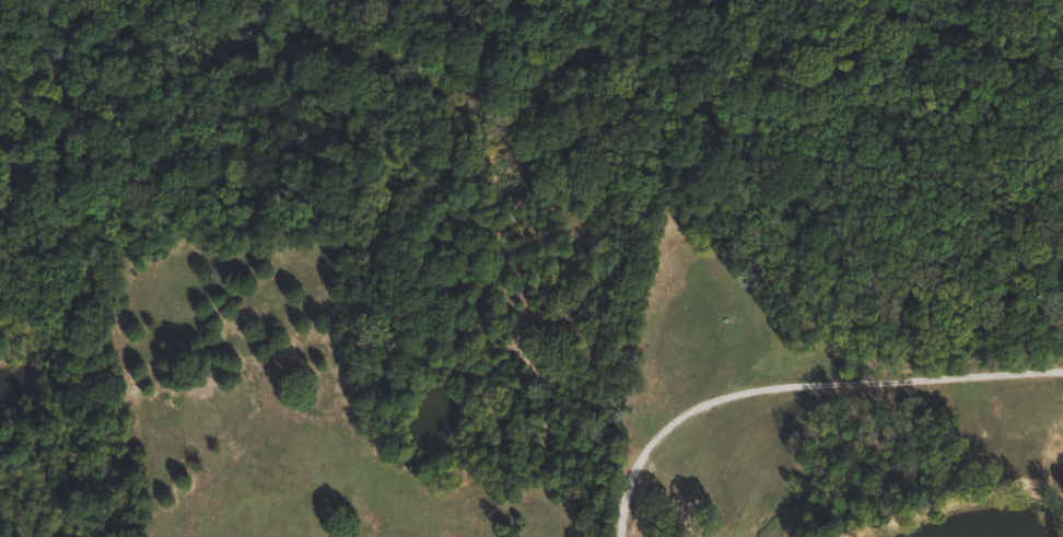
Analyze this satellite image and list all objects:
road: (803, 388)

